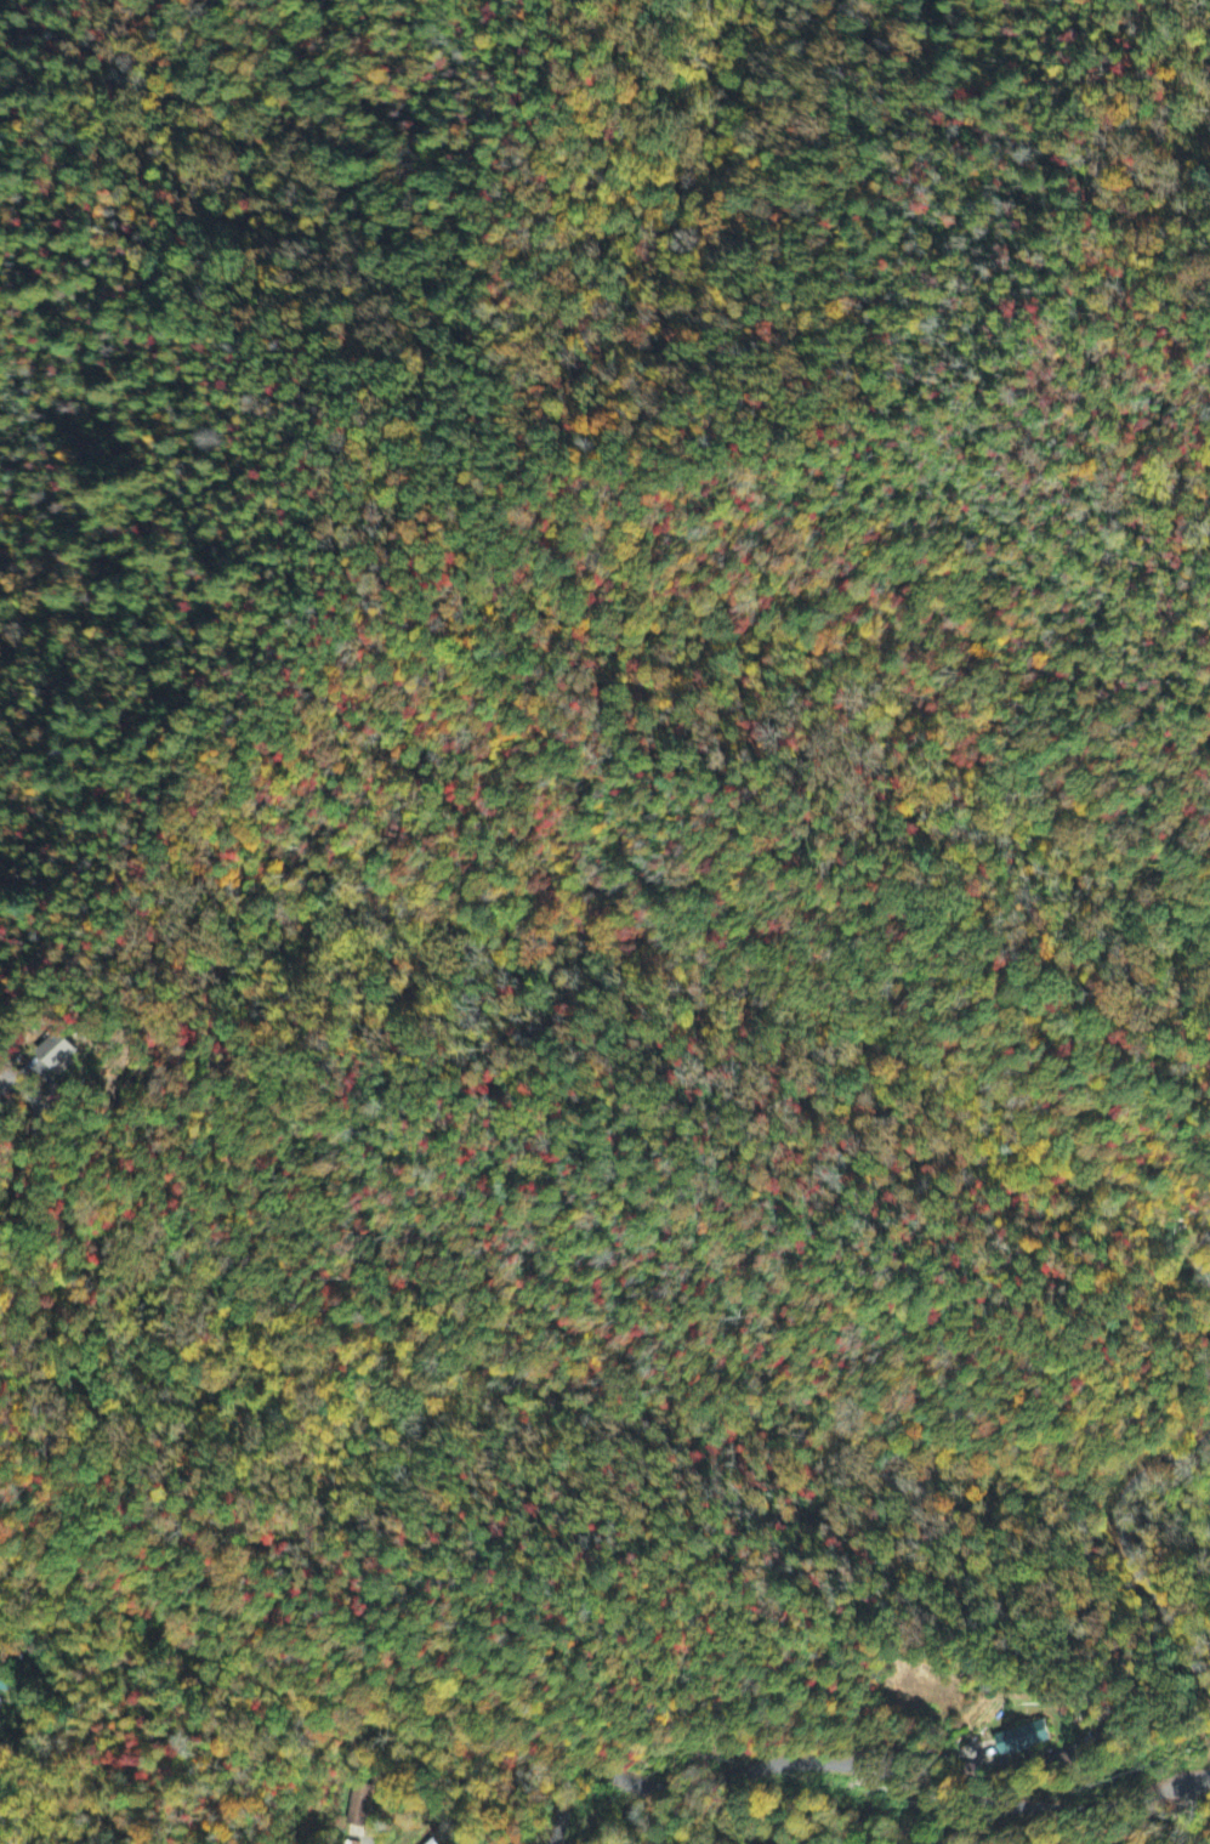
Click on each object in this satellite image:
building: (55, 1054)
road: (7, 1303)
road: (1124, 1550)
building: (2, 1673)
building: (1018, 1738)
road: (676, 1787)
building: (357, 1806)
road: (1032, 1809)
road: (5, 1831)

